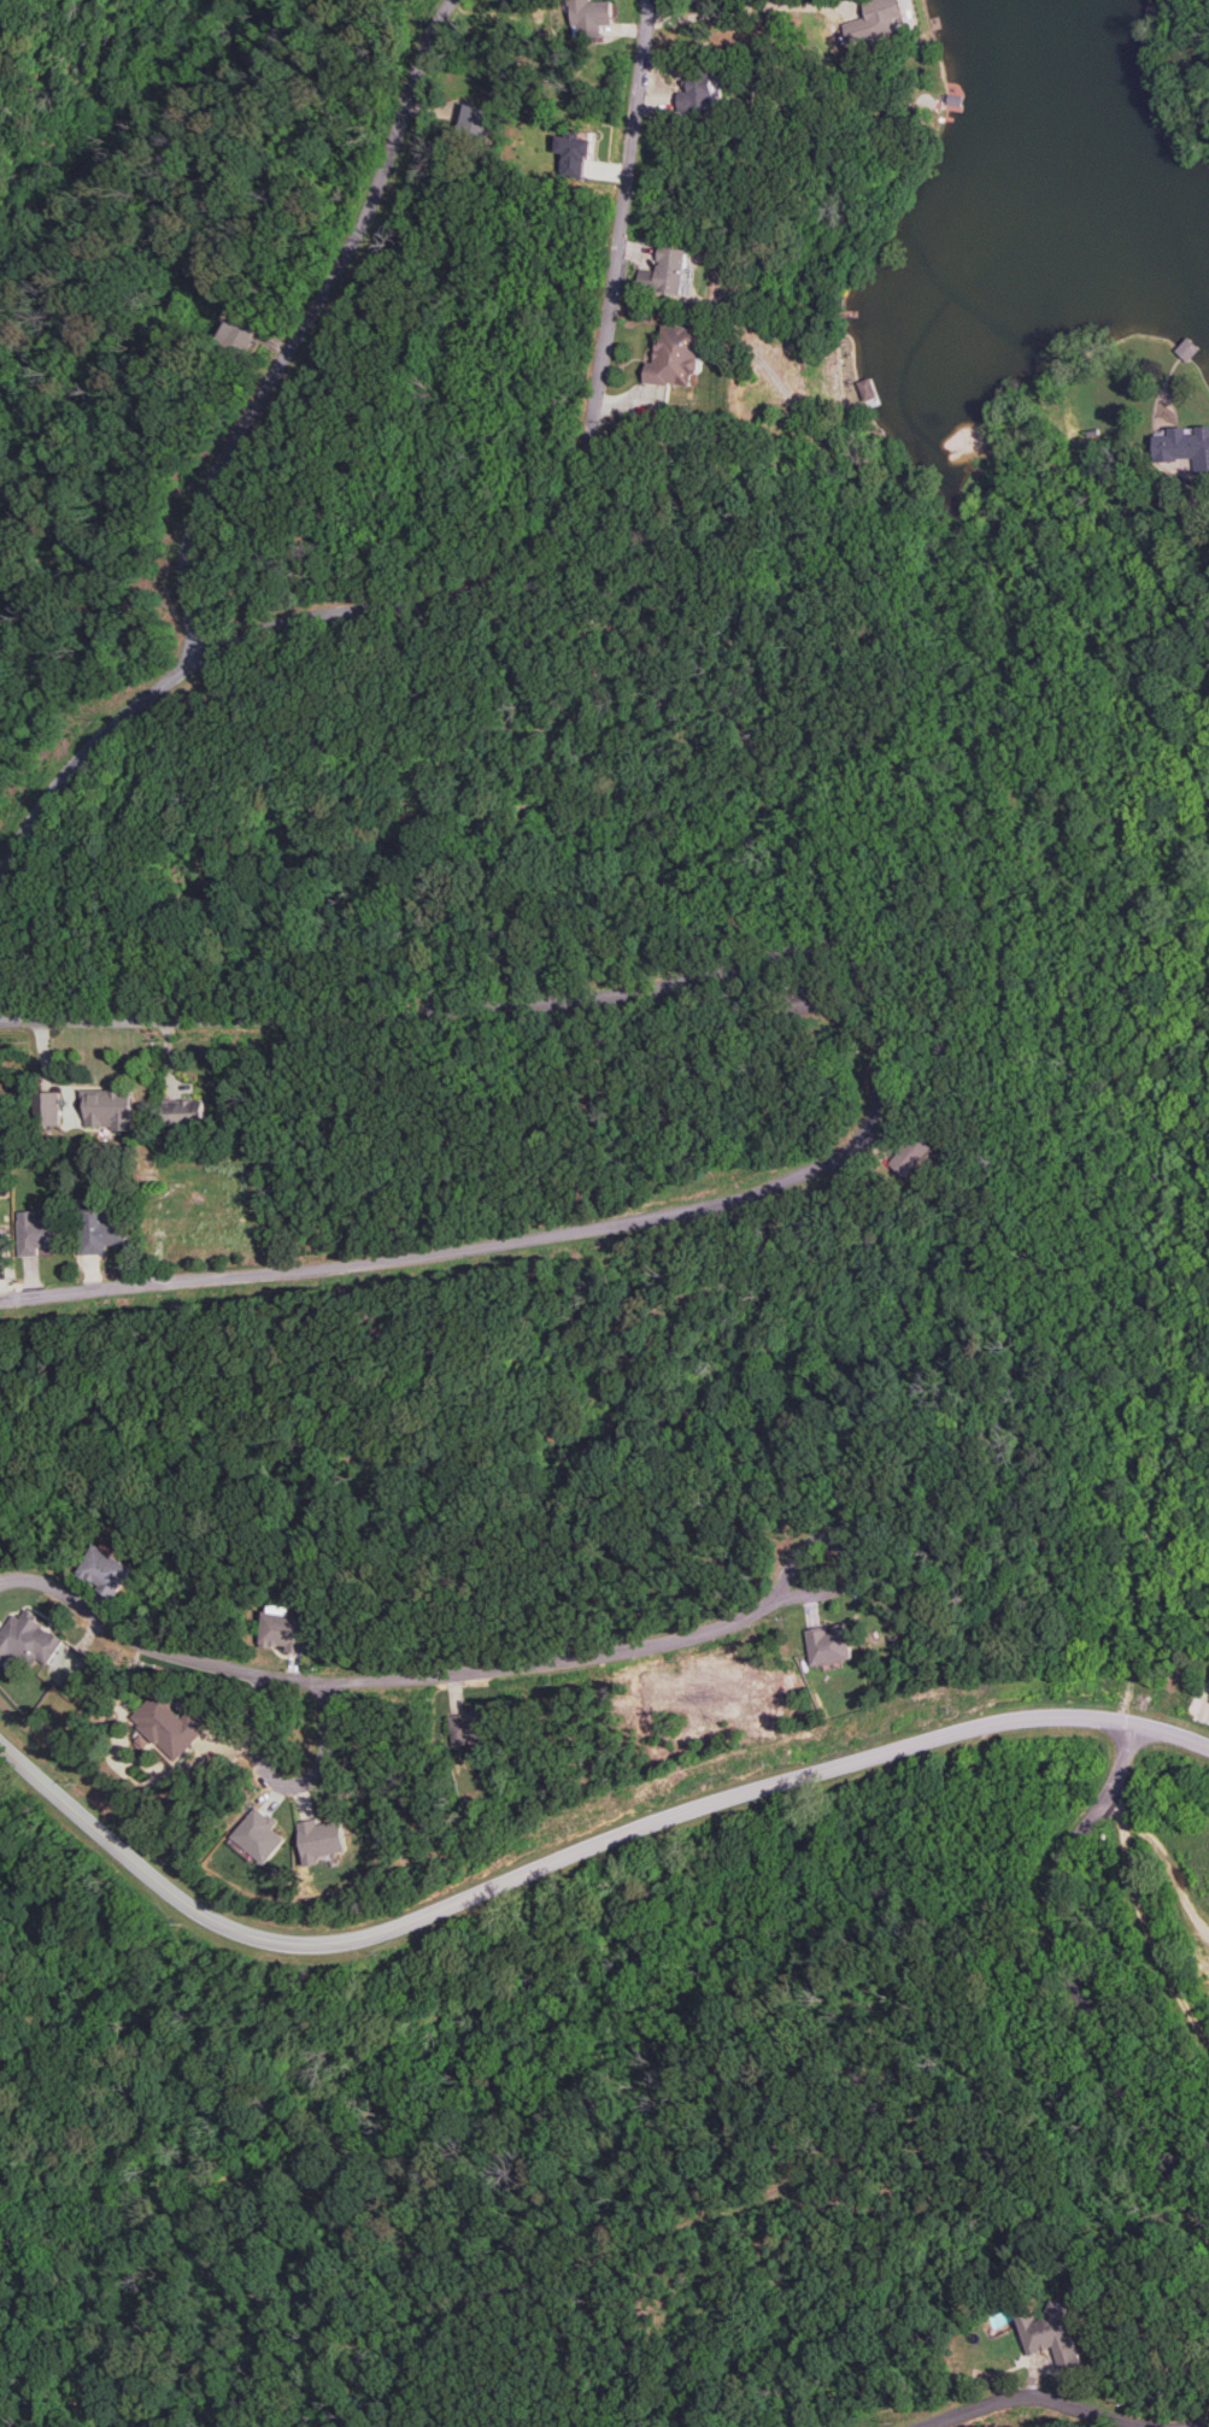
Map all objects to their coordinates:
building: (589, 16)
building: (874, 19)
building: (698, 89)
building: (475, 118)
building: (574, 152)
building: (670, 269)
road: (309, 329)
building: (236, 333)
building: (677, 355)
building: (1184, 446)
road: (587, 460)
road: (1205, 494)
road: (582, 595)
road: (84, 756)
building: (810, 998)
road: (881, 1059)
building: (48, 1107)
building: (107, 1107)
building: (183, 1112)
building: (911, 1154)
building: (99, 1228)
building: (36, 1234)
building: (1, 1246)
building: (105, 1569)
building: (283, 1628)
building: (28, 1638)
building: (829, 1644)
road: (412, 1676)
building: (169, 1724)
building: (470, 1724)
road: (290, 1781)
building: (260, 1834)
building: (322, 1839)
road: (575, 1855)
road: (1134, 1890)
road: (1088, 2010)
road: (533, 2280)
building: (1049, 2333)
road: (1034, 2398)
road: (1202, 2423)

